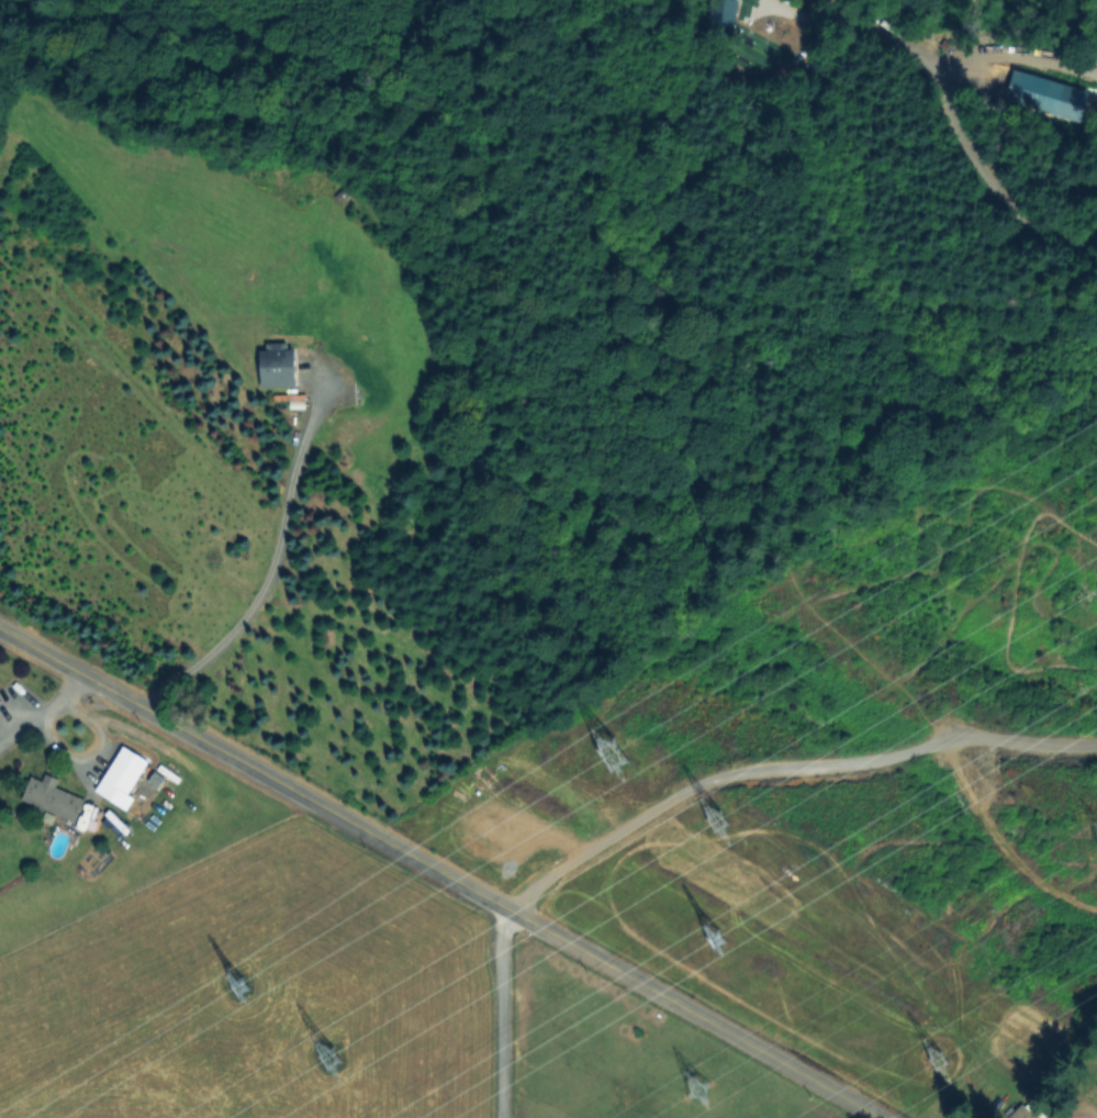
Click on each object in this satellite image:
road: (962, 138)
building: (279, 365)
building: (291, 399)
road: (265, 583)
road: (44, 711)
power tower: (600, 748)
road: (787, 767)
building: (125, 771)
building: (54, 800)
power tower: (710, 825)
power tower: (1092, 841)
road: (444, 870)
power tower: (701, 928)
power tower: (227, 987)
road: (504, 1011)
power tower: (324, 1058)
power tower: (928, 1058)
power tower: (695, 1084)
building: (1096, 1088)
building: (1021, 1113)
road: (877, 1116)

